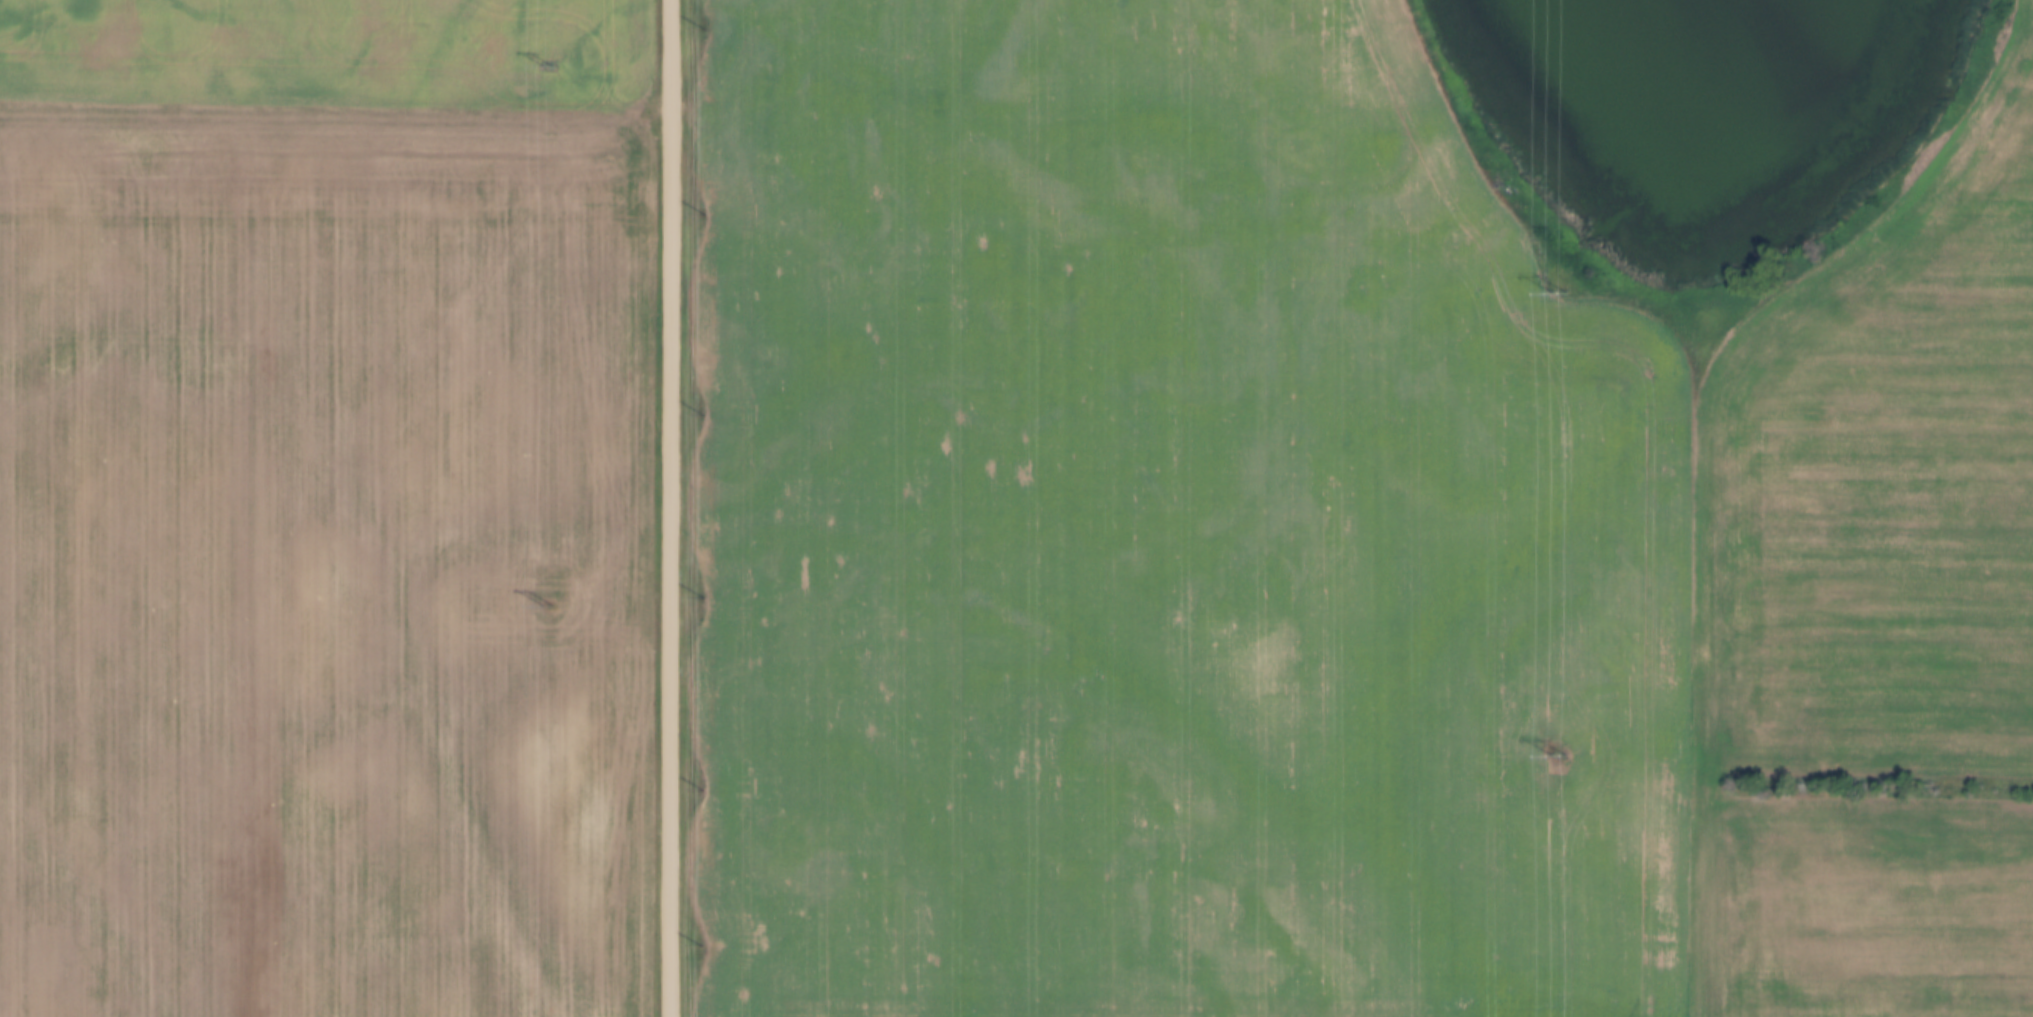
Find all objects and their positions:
power tower: (1559, 292)
road: (669, 508)
power tower: (1559, 756)

